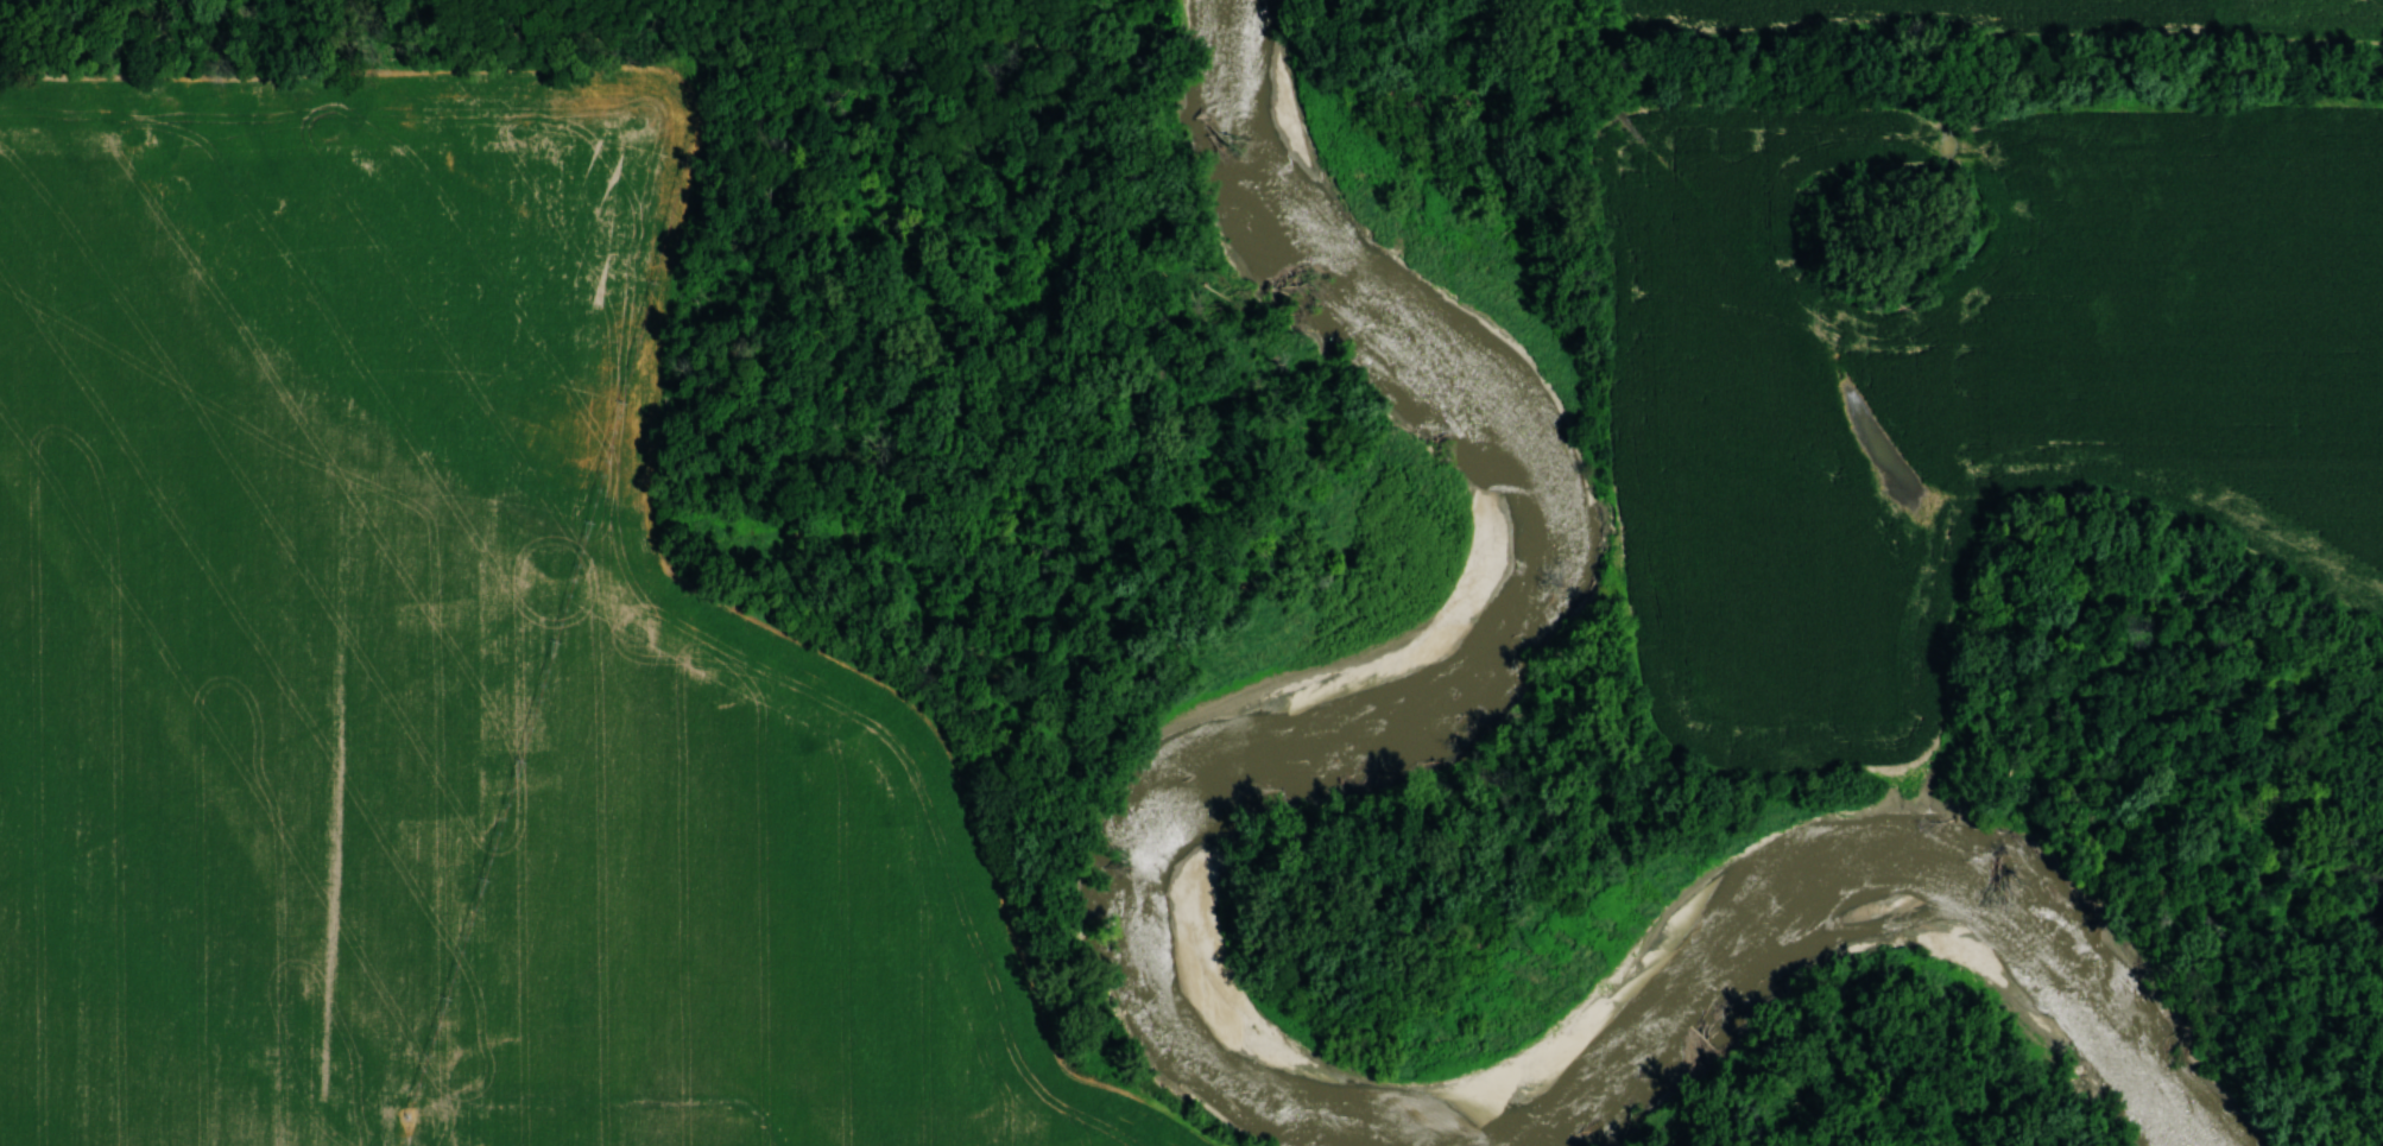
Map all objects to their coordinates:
river: (1189, 999)

